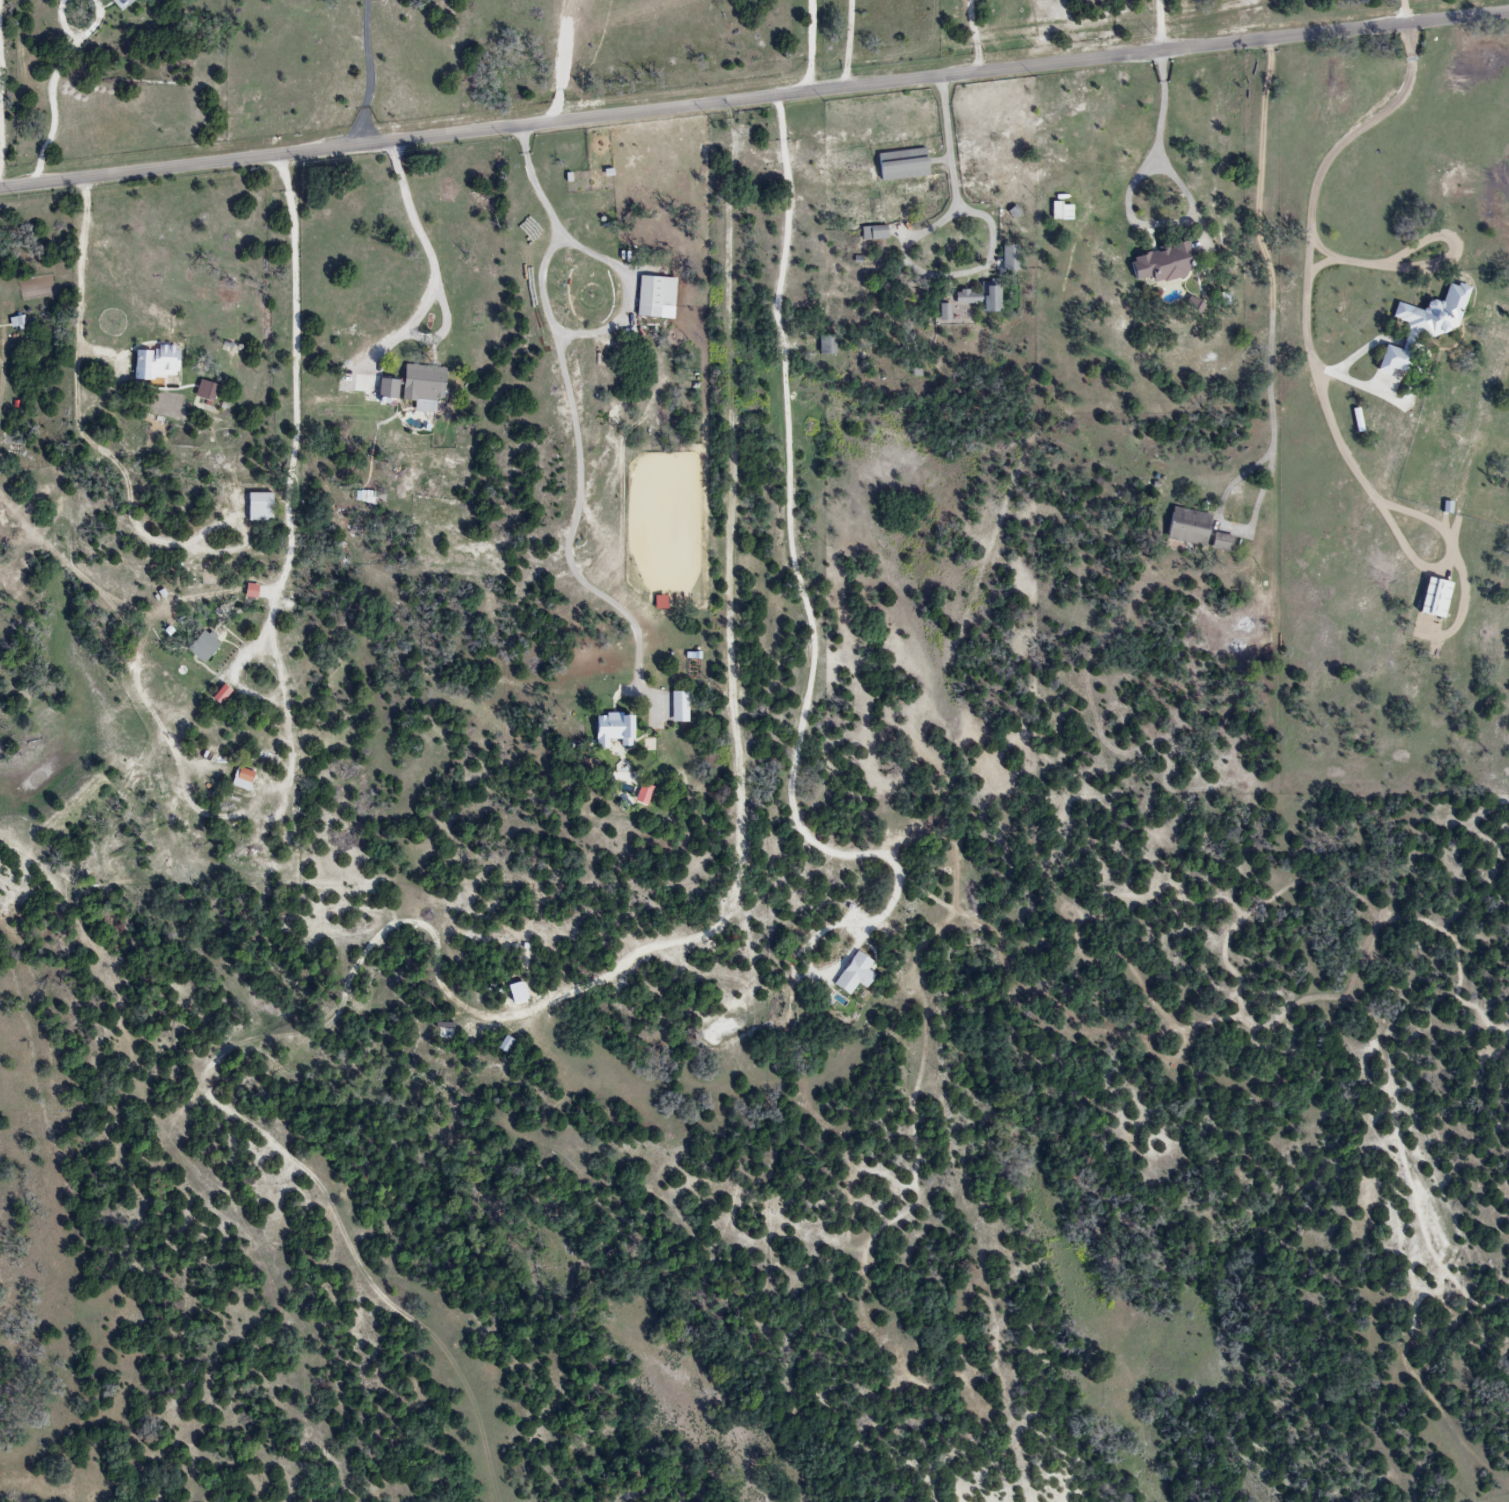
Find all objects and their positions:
building: (121, 3)
road: (1405, 11)
road: (1162, 26)
road: (977, 36)
road: (850, 43)
road: (812, 46)
road: (562, 60)
road: (371, 73)
road: (7, 93)
road: (754, 99)
road: (55, 108)
road: (1323, 163)
building: (901, 165)
road: (956, 175)
road: (1135, 204)
building: (874, 234)
building: (1011, 259)
building: (1161, 264)
road: (433, 269)
road: (80, 278)
building: (655, 297)
building: (978, 299)
building: (943, 313)
building: (1433, 313)
building: (15, 322)
road: (1271, 343)
building: (827, 345)
building: (1388, 361)
building: (155, 363)
building: (420, 386)
building: (384, 390)
building: (204, 391)
road: (306, 413)
road: (582, 429)
building: (257, 507)
building: (1188, 528)
building: (1222, 544)
road: (794, 549)
building: (1432, 599)
building: (202, 646)
building: (679, 708)
building: (610, 730)
building: (240, 780)
building: (643, 795)
building: (624, 1497)

